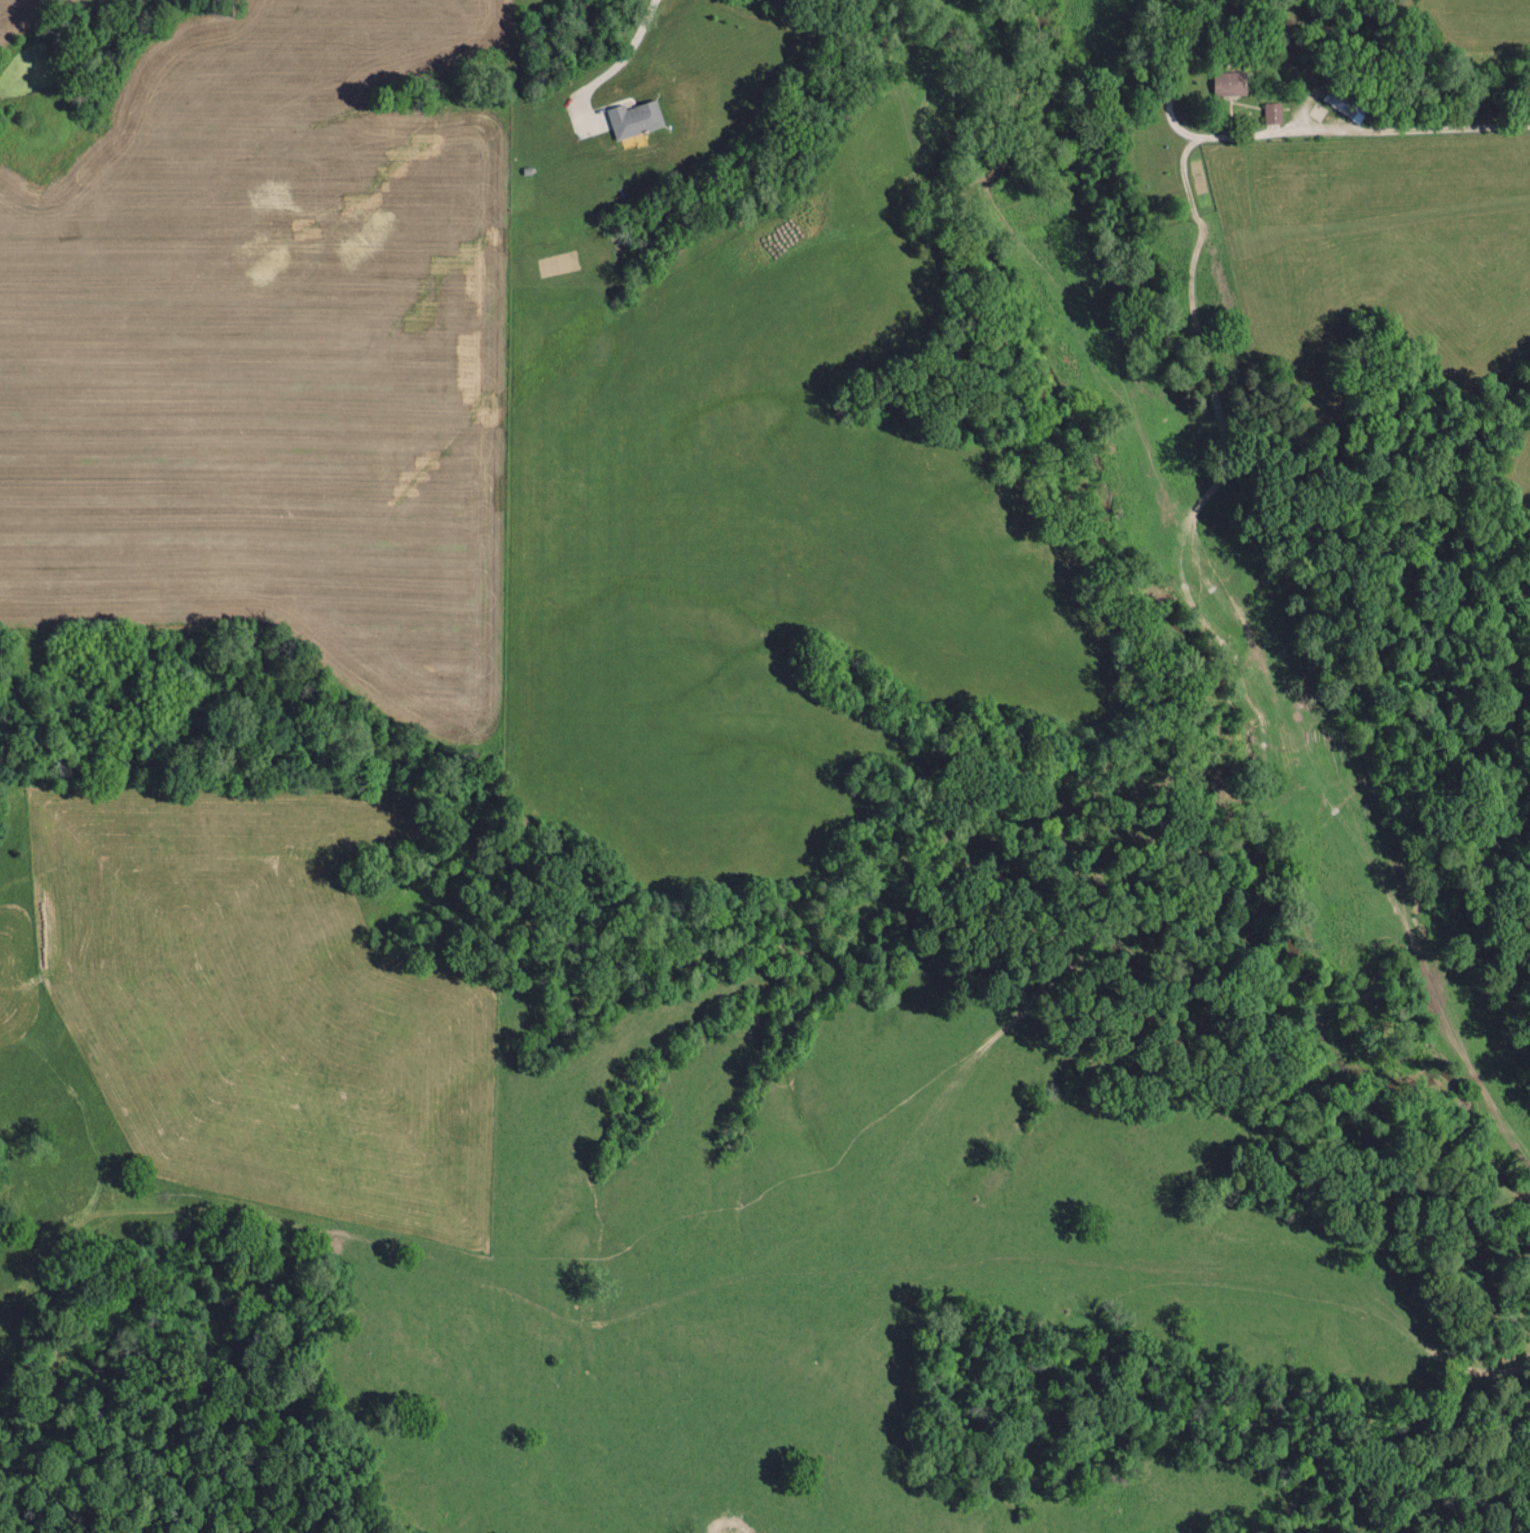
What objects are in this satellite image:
road: (624, 51)
building: (1230, 82)
building: (1344, 103)
building: (1273, 112)
building: (634, 118)

